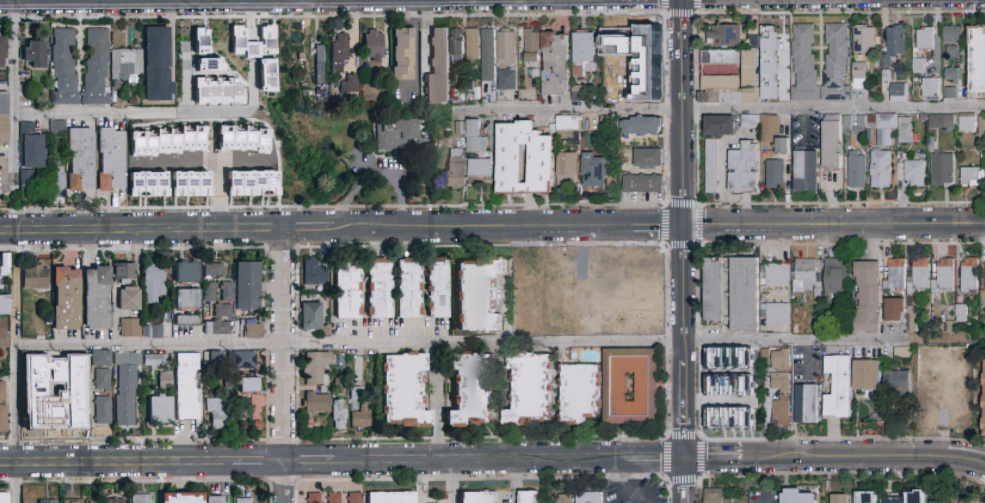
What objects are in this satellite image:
road: (680, 14)
building: (724, 35)
building: (952, 35)
building: (627, 38)
building: (924, 39)
building: (196, 40)
building: (864, 40)
building: (770, 42)
building: (894, 42)
building: (472, 44)
building: (372, 45)
building: (532, 45)
building: (457, 49)
building: (2, 51)
building: (35, 53)
building: (338, 53)
building: (487, 53)
building: (583, 53)
building: (256, 54)
building: (402, 54)
building: (952, 54)
building: (720, 58)
building: (977, 60)
building: (507, 61)
building: (804, 62)
building: (836, 63)
building: (126, 64)
building: (156, 64)
building: (556, 64)
building: (320, 65)
building: (917, 65)
building: (64, 66)
building: (96, 66)
building: (438, 68)
building: (951, 74)
building: (858, 77)
building: (348, 83)
building: (720, 83)
building: (754, 86)
building: (930, 88)
building: (215, 90)
road: (13, 93)
building: (899, 93)
building: (949, 93)
building: (577, 94)
building: (4, 102)
road: (666, 109)
road: (695, 109)
road: (721, 110)
road: (682, 112)
road: (130, 113)
building: (750, 122)
building: (936, 122)
building: (967, 125)
building: (56, 126)
building: (642, 126)
building: (720, 126)
building: (568, 127)
building: (880, 128)
building: (4, 131)
building: (904, 131)
building: (773, 134)
building: (397, 135)
building: (245, 139)
building: (169, 141)
building: (832, 146)
building: (477, 156)
building: (29, 157)
building: (80, 159)
building: (111, 159)
building: (648, 159)
building: (525, 160)
road: (204, 163)
building: (569, 165)
building: (710, 167)
building: (743, 168)
building: (455, 169)
building: (881, 169)
road: (371, 170)
building: (856, 170)
building: (942, 170)
building: (596, 171)
building: (806, 171)
building: (774, 173)
building: (914, 174)
building: (971, 177)
building: (58, 182)
building: (192, 184)
building: (254, 184)
building: (642, 184)
building: (150, 185)
road: (215, 186)
traffic signals: (682, 226)
road: (833, 226)
road: (341, 229)
road: (696, 246)
road: (633, 263)
building: (2, 268)
building: (560, 268)
building: (213, 269)
building: (124, 272)
building: (187, 272)
building: (314, 273)
building: (920, 274)
building: (984, 274)
building: (777, 275)
building: (895, 275)
building: (943, 275)
building: (807, 276)
building: (969, 276)
building: (35, 277)
building: (836, 277)
building: (155, 278)
road: (583, 284)
building: (246, 286)
building: (378, 288)
building: (408, 288)
building: (438, 288)
building: (348, 290)
building: (209, 291)
building: (715, 291)
building: (478, 295)
building: (744, 295)
building: (867, 297)
building: (66, 298)
building: (96, 298)
building: (129, 299)
building: (187, 299)
building: (224, 300)
building: (564, 301)
building: (4, 304)
building: (633, 304)
building: (893, 310)
road: (14, 312)
building: (775, 315)
building: (802, 315)
building: (311, 316)
building: (187, 320)
building: (910, 320)
building: (130, 328)
building: (218, 328)
building: (253, 329)
building: (152, 331)
building: (3, 333)
road: (800, 341)
road: (683, 342)
road: (272, 344)
road: (285, 346)
building: (901, 353)
building: (763, 355)
building: (723, 356)
building: (242, 357)
building: (100, 358)
building: (212, 358)
building: (780, 359)
building: (155, 360)
road: (806, 360)
building: (37, 367)
building: (315, 367)
road: (715, 372)
building: (867, 375)
building: (102, 379)
building: (221, 380)
building: (897, 383)
building: (73, 385)
building: (248, 385)
building: (186, 386)
building: (723, 387)
building: (839, 387)
building: (616, 388)
building: (125, 389)
building: (529, 389)
building: (471, 390)
building: (2, 391)
building: (403, 391)
building: (579, 394)
building: (780, 396)
building: (984, 400)
building: (316, 402)
road: (715, 402)
road: (439, 403)
building: (806, 404)
building: (51, 408)
building: (160, 409)
building: (102, 410)
building: (359, 410)
building: (216, 413)
building: (338, 415)
building: (723, 416)
building: (3, 419)
road: (945, 425)
road: (655, 460)
traffic signals: (684, 460)
road: (481, 461)
road: (814, 461)
road: (260, 463)
road: (311, 463)
road: (965, 463)
road: (116, 464)
road: (684, 481)
road: (418, 482)
road: (449, 482)
road: (514, 482)
road: (287, 483)
road: (627, 487)
building: (714, 496)
building: (181, 497)
building: (390, 497)
building: (477, 497)
building: (530, 497)
building: (797, 497)
building: (866, 497)
building: (916, 497)
building: (4, 498)
building: (142, 498)
building: (313, 498)
building: (334, 498)
building: (354, 498)
building: (589, 498)
building: (216, 499)
road: (764, 499)
building: (840, 499)
building: (72, 500)
building: (111, 500)
building: (243, 500)
building: (563, 500)
building: (46, 501)
building: (624, 502)
building: (895, 502)
building: (942, 502)

